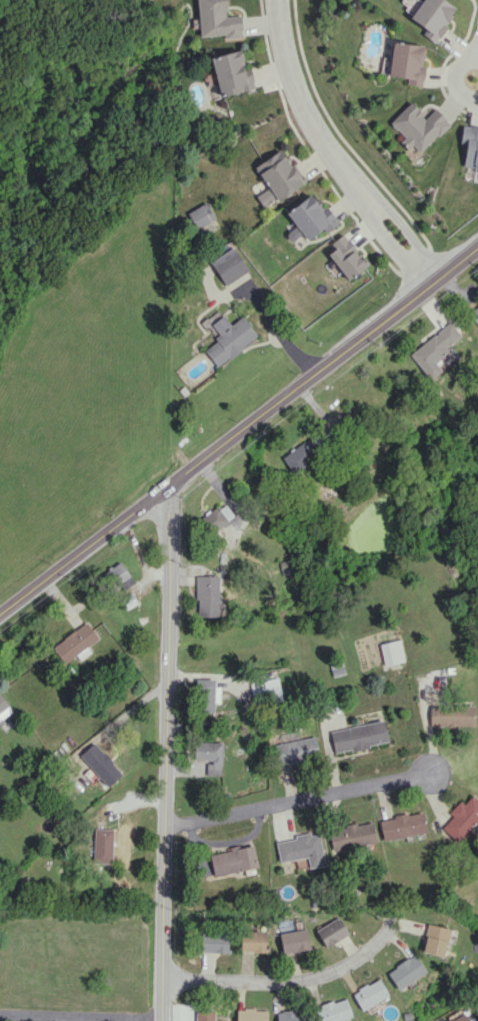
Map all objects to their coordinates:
building: (432, 17)
building: (216, 19)
road: (477, 58)
building: (407, 62)
building: (230, 73)
road: (455, 78)
building: (418, 126)
building: (470, 147)
road: (332, 150)
building: (276, 177)
building: (203, 219)
building: (347, 256)
building: (229, 266)
building: (474, 313)
road: (280, 330)
building: (227, 336)
building: (434, 349)
road: (240, 431)
building: (303, 453)
building: (218, 517)
building: (119, 575)
building: (206, 596)
building: (75, 643)
building: (391, 652)
building: (265, 690)
building: (206, 695)
building: (4, 708)
building: (451, 714)
building: (358, 736)
building: (296, 749)
road: (165, 752)
building: (209, 755)
building: (100, 764)
road: (296, 800)
building: (461, 818)
building: (402, 825)
building: (351, 836)
building: (102, 845)
building: (302, 849)
building: (227, 861)
building: (331, 931)
building: (436, 939)
building: (293, 940)
building: (253, 941)
building: (214, 942)
building: (405, 971)
road: (288, 980)
building: (369, 995)
building: (476, 1005)
building: (333, 1010)
building: (251, 1014)
building: (204, 1015)
building: (290, 1016)
building: (457, 1016)
road: (80, 1017)

